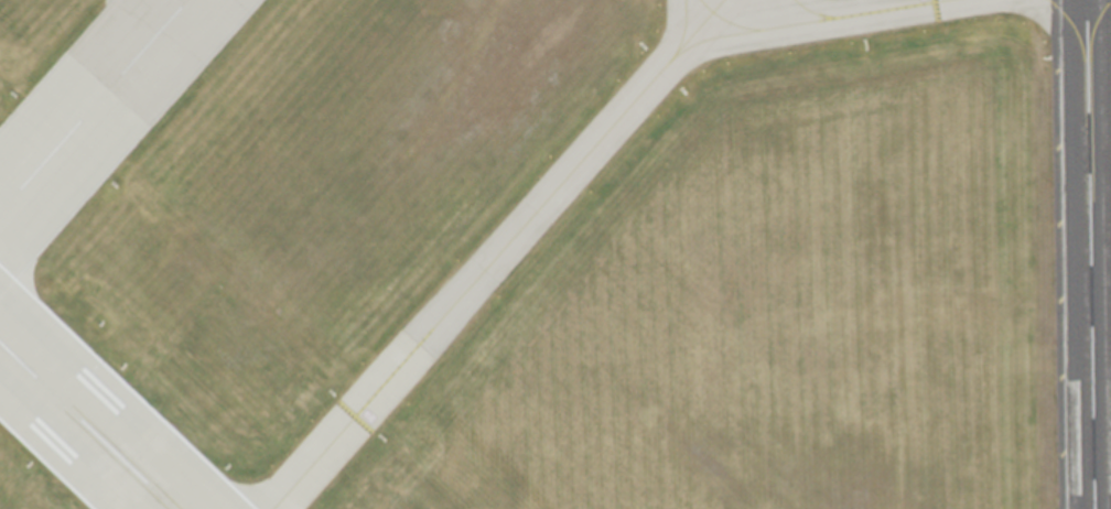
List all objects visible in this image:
airport taxiway: (705, 6)
airport taxiway: (813, 12)
airport taxiway: (822, 19)
airport taxiway: (684, 28)
road: (115, 39)
airport taxiway: (708, 39)
airport runway: (93, 106)
airport taxiway: (497, 253)
airport: (555, 254)
airport runway: (1087, 254)
airport runway: (87, 424)

